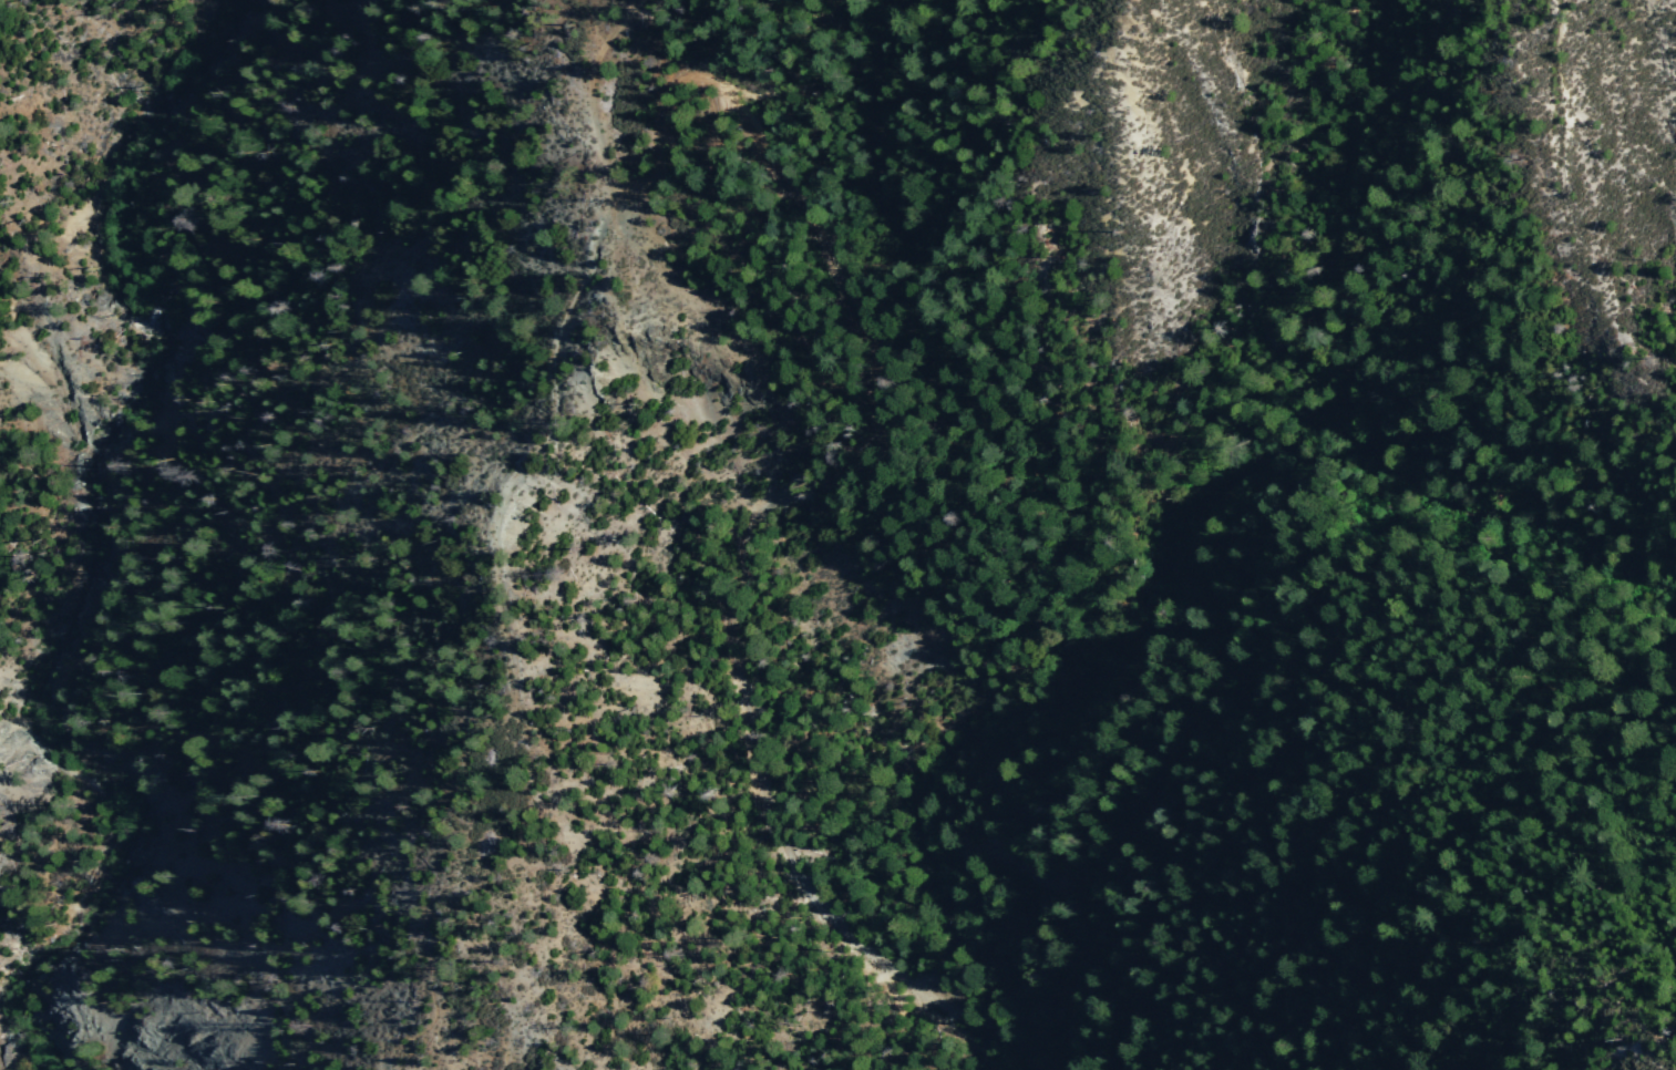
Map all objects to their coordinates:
road: (551, 28)
road: (1534, 196)
road: (419, 418)
road: (793, 503)
road: (1092, 935)

